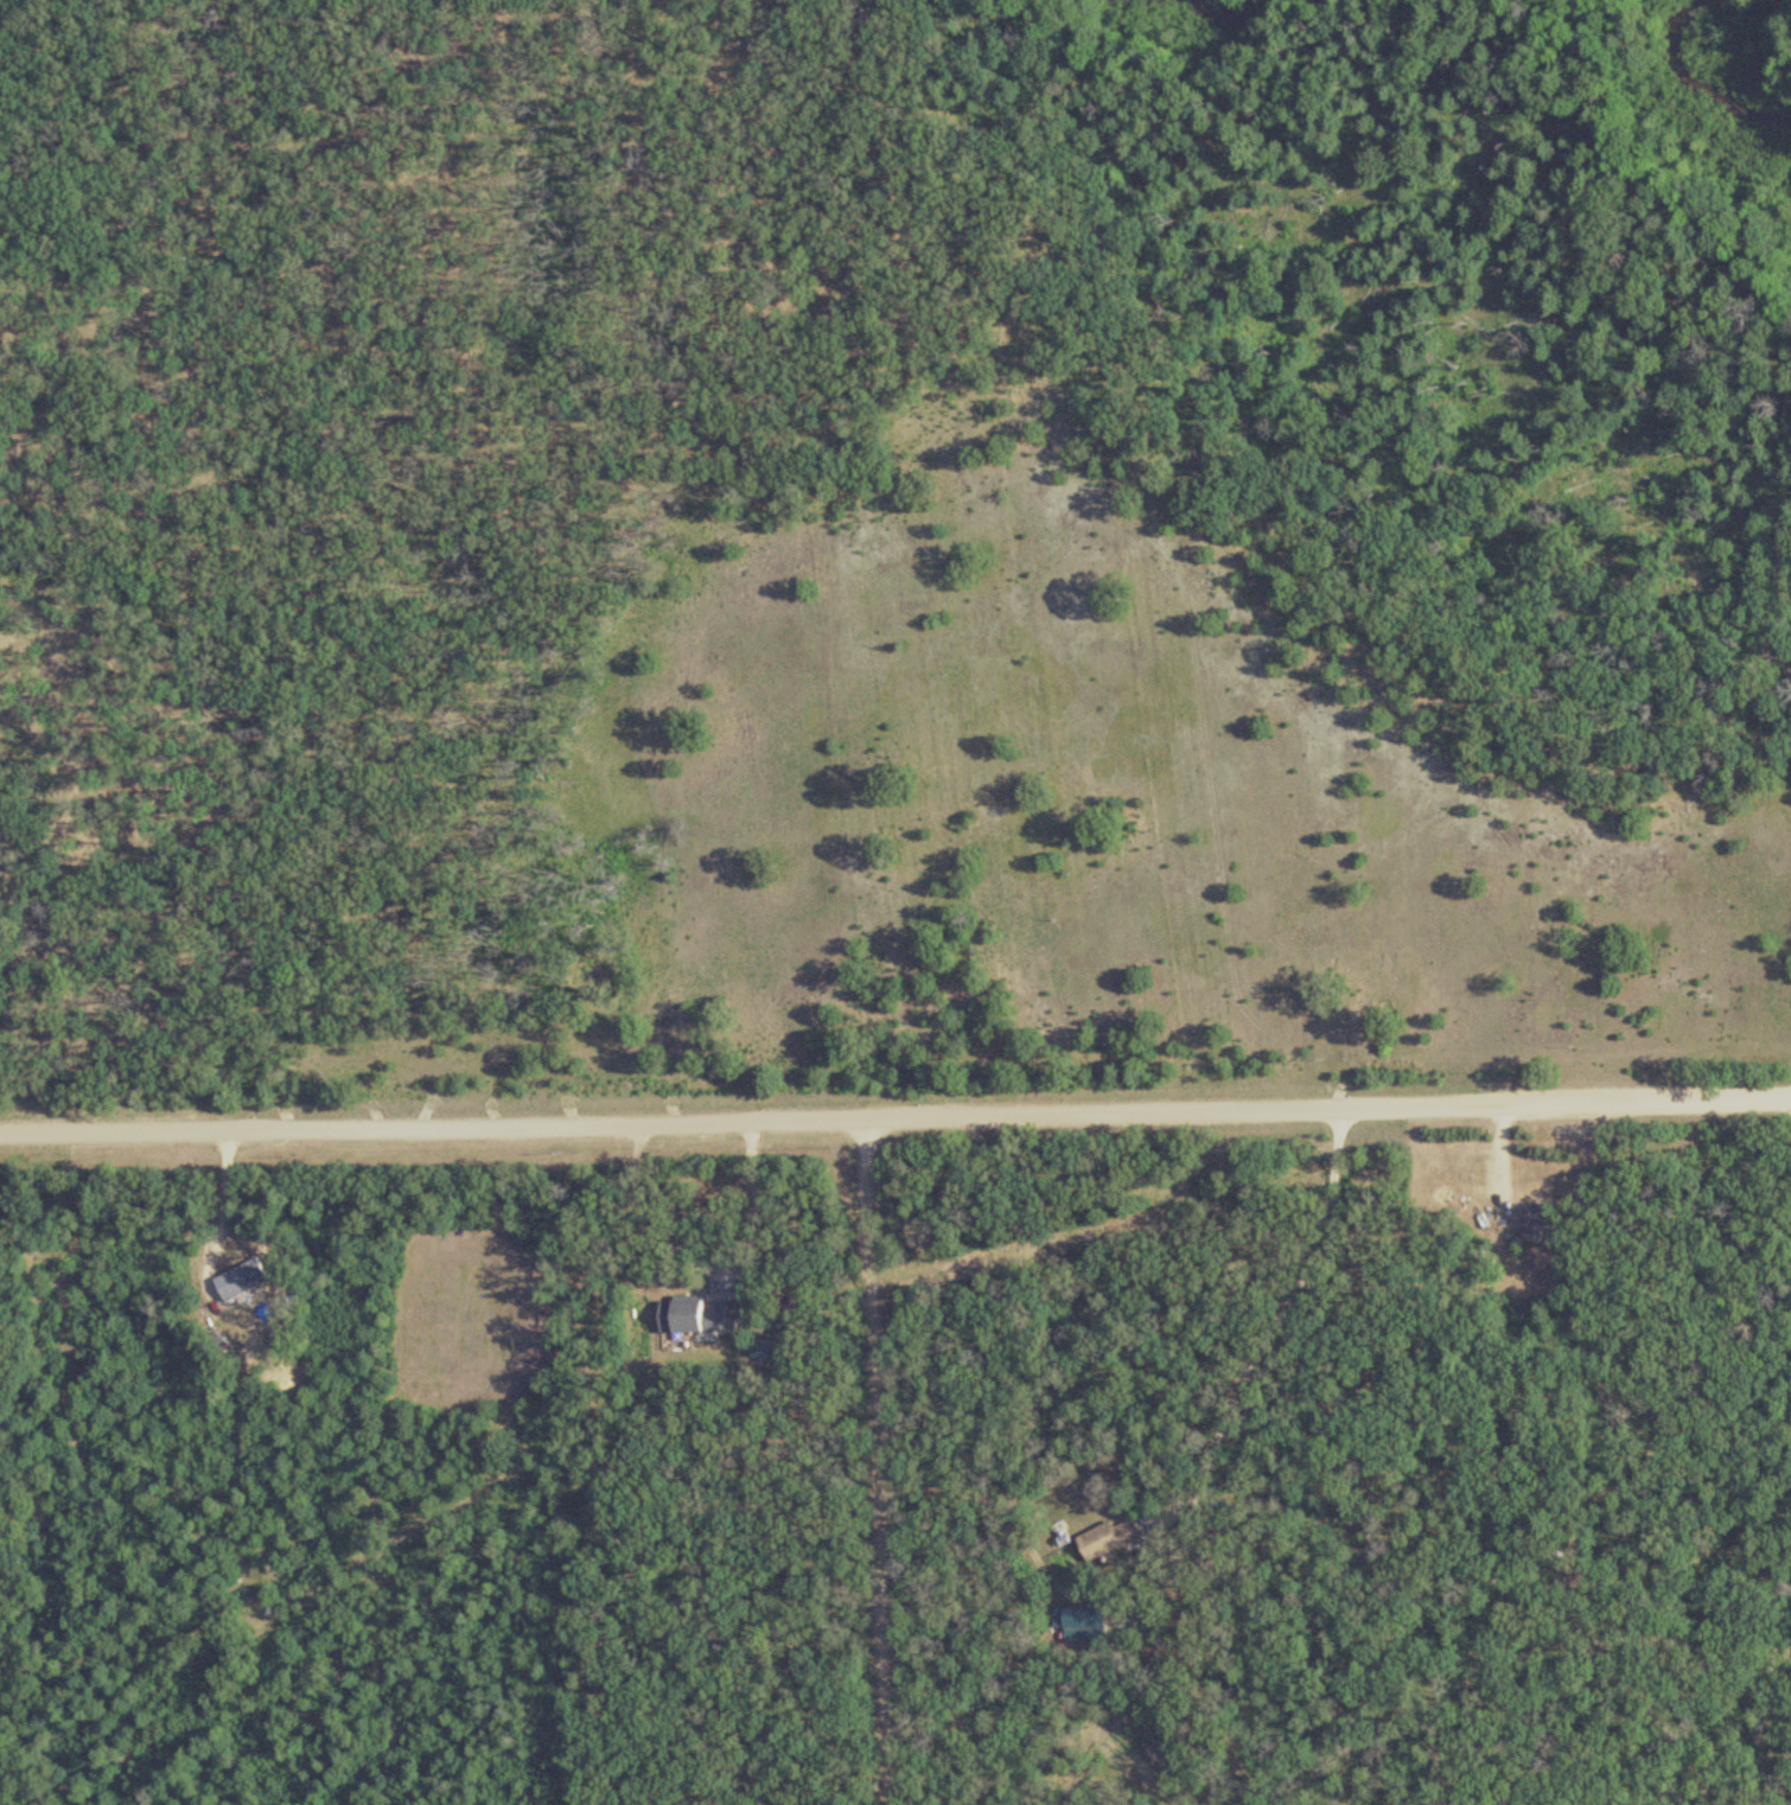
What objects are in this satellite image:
park: (881, 24)
road: (896, 1116)
road: (746, 1208)
building: (1537, 1225)
building: (241, 1280)
road: (217, 1291)
road: (1277, 1310)
building: (697, 1315)
road: (866, 1461)
building: (1108, 1538)
building: (1094, 1619)

